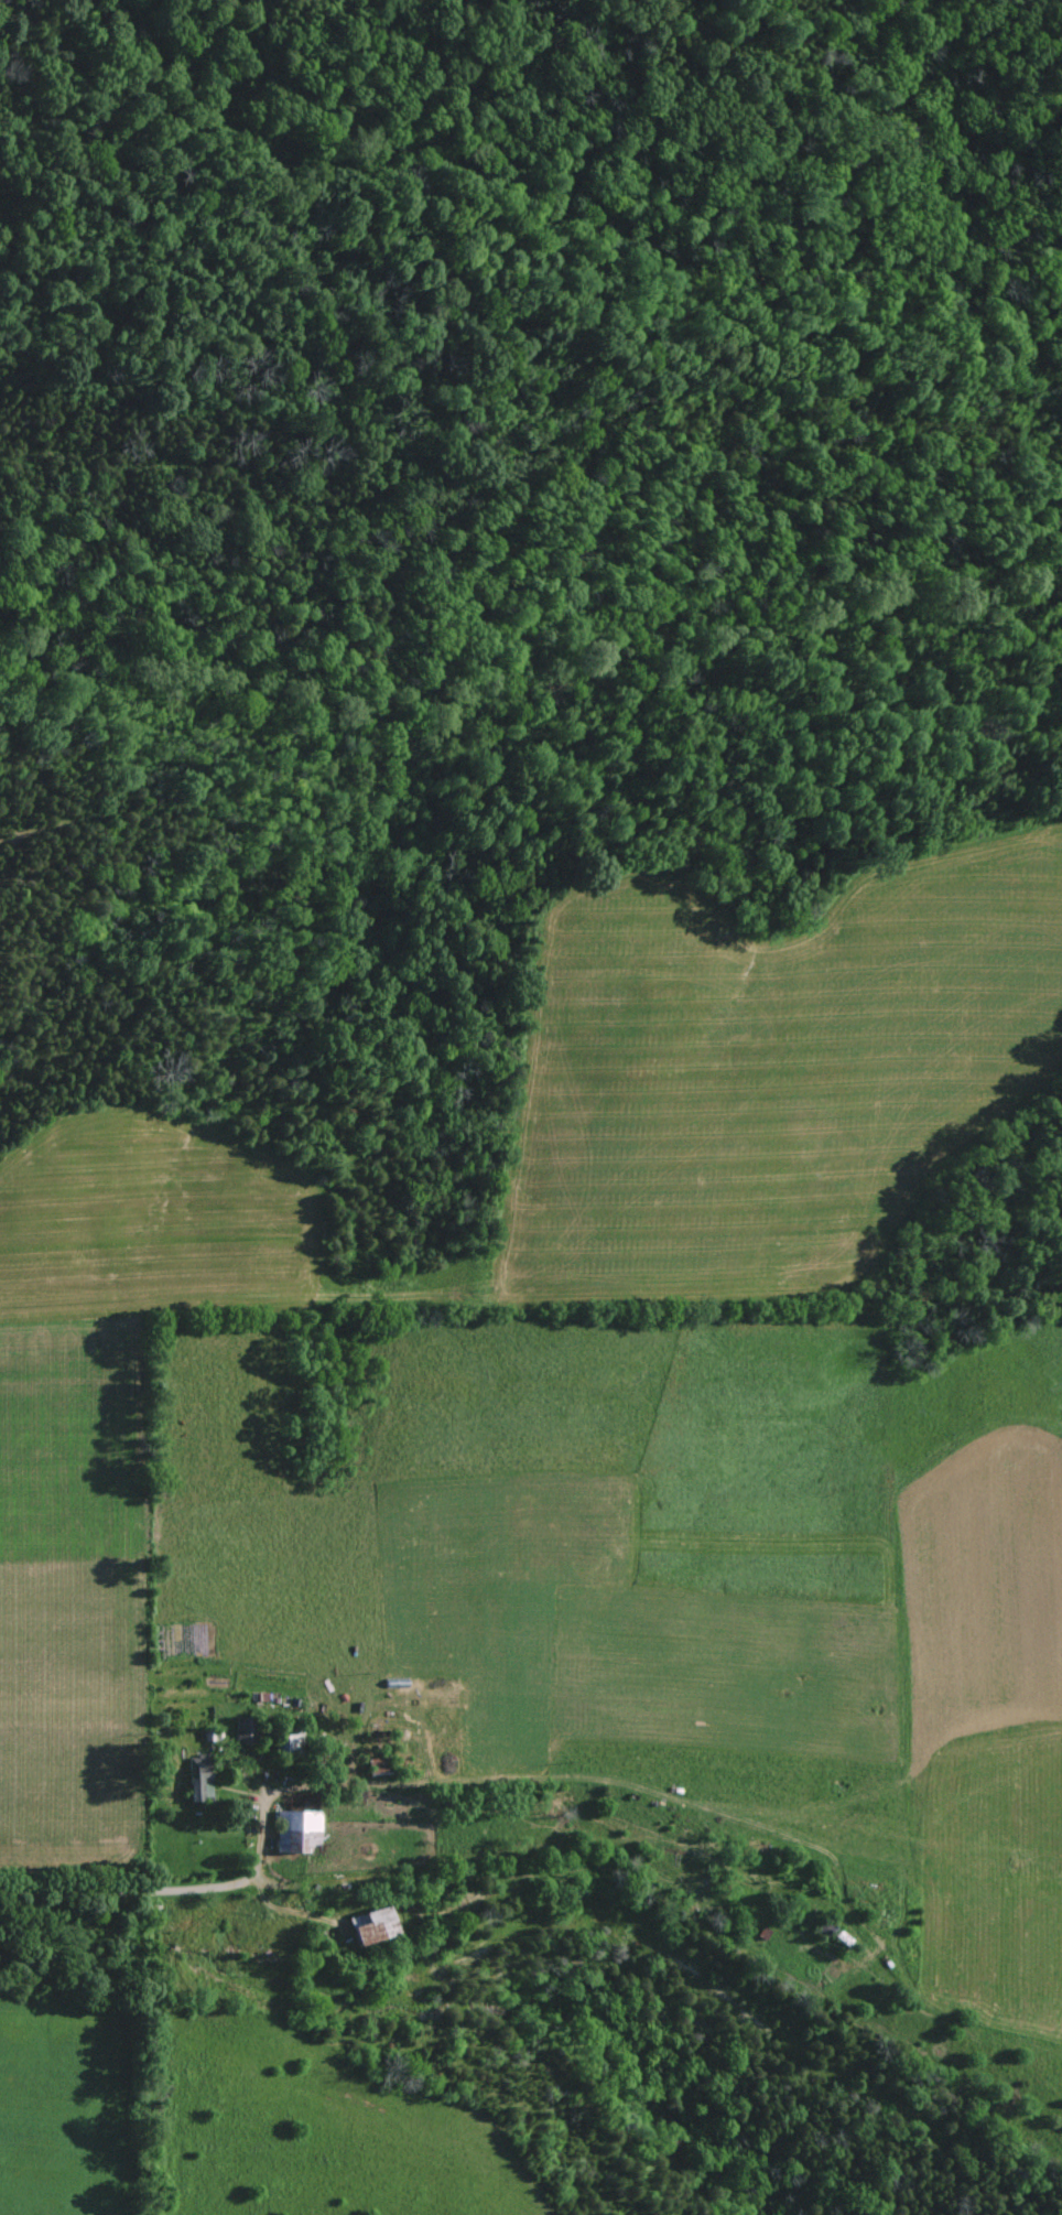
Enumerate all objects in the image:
building: (242, 1731)
building: (378, 1765)
building: (201, 1779)
building: (297, 1830)
road: (127, 1895)
building: (373, 1925)

